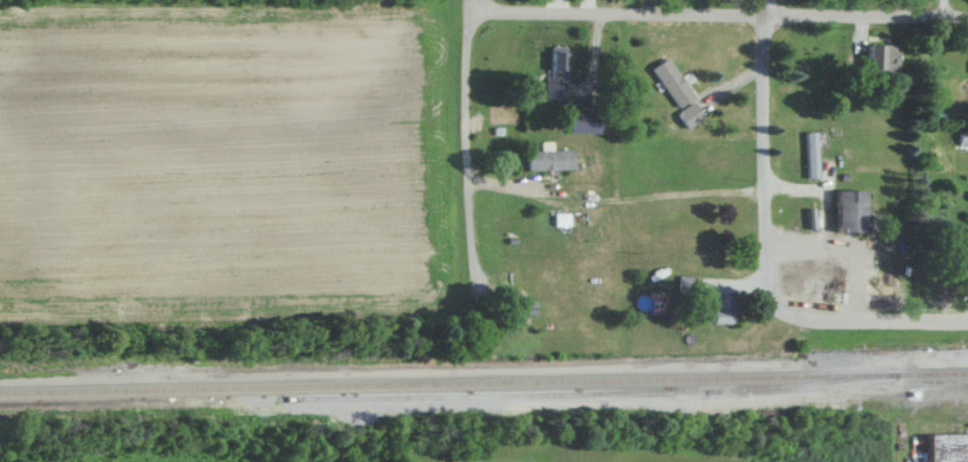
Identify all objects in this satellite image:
road: (720, 17)
building: (880, 57)
building: (557, 74)
building: (672, 81)
building: (967, 96)
building: (690, 115)
road: (467, 138)
building: (812, 154)
road: (765, 156)
building: (546, 159)
road: (614, 197)
building: (847, 210)
building: (557, 219)
road: (831, 256)
building: (681, 283)
building: (712, 308)
building: (511, 310)
road: (871, 319)
railway: (483, 377)
railway: (682, 390)
building: (945, 448)

